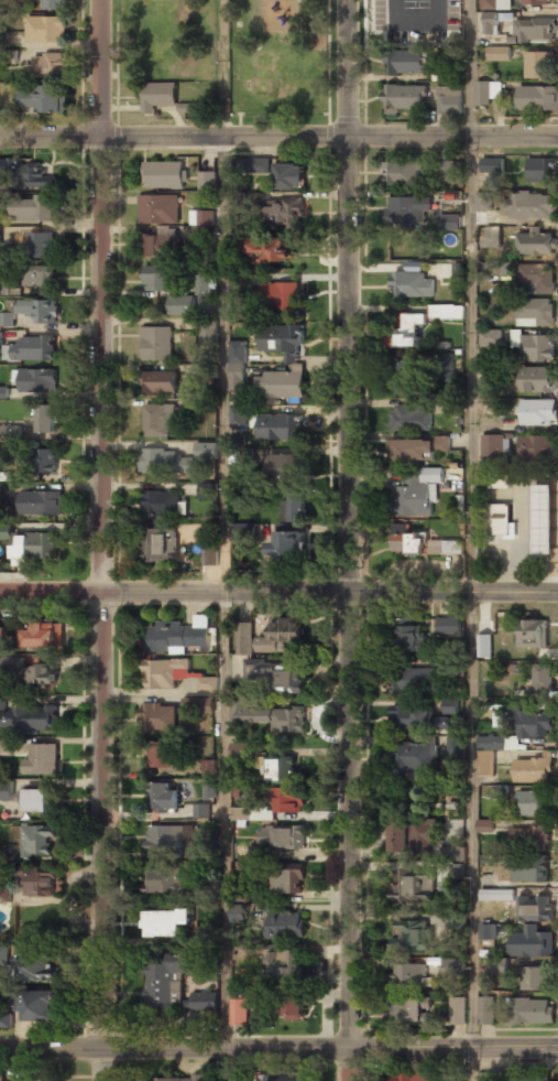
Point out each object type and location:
building: (537, 2)
building: (54, 4)
building: (396, 4)
building: (495, 4)
building: (495, 20)
building: (398, 26)
building: (45, 29)
building: (535, 30)
building: (1, 39)
park: (278, 54)
building: (493, 54)
building: (8, 56)
building: (405, 64)
building: (536, 66)
building: (47, 67)
building: (485, 94)
building: (157, 96)
building: (403, 98)
building: (537, 98)
building: (43, 100)
building: (448, 102)
road: (278, 141)
building: (492, 164)
building: (252, 165)
building: (541, 170)
building: (447, 171)
building: (28, 173)
building: (402, 174)
building: (165, 175)
building: (289, 176)
building: (207, 181)
building: (484, 201)
building: (530, 205)
building: (158, 208)
building: (33, 209)
building: (405, 210)
building: (284, 212)
building: (203, 217)
building: (484, 217)
building: (450, 221)
building: (201, 234)
building: (0, 235)
building: (493, 236)
building: (160, 244)
building: (534, 244)
building: (36, 246)
building: (273, 246)
building: (37, 277)
building: (156, 278)
building: (536, 278)
building: (201, 284)
building: (412, 285)
building: (4, 287)
building: (280, 295)
road: (468, 296)
building: (180, 306)
building: (35, 310)
building: (447, 312)
building: (535, 313)
building: (7, 318)
building: (411, 331)
building: (208, 332)
building: (491, 338)
building: (0, 339)
building: (282, 342)
building: (155, 345)
building: (32, 347)
building: (536, 347)
building: (237, 365)
building: (423, 371)
building: (37, 380)
building: (538, 380)
building: (160, 383)
building: (281, 385)
building: (449, 406)
building: (538, 413)
building: (238, 417)
building: (414, 418)
building: (47, 420)
building: (157, 421)
building: (281, 428)
building: (10, 431)
building: (493, 445)
building: (537, 448)
building: (419, 450)
building: (206, 451)
building: (44, 461)
building: (164, 463)
building: (284, 467)
building: (501, 480)
building: (207, 490)
building: (0, 496)
building: (412, 498)
building: (40, 504)
building: (162, 504)
building: (292, 508)
building: (543, 508)
building: (499, 520)
building: (6, 531)
building: (247, 531)
road: (103, 540)
road: (225, 540)
road: (347, 540)
building: (407, 541)
building: (162, 545)
building: (287, 545)
building: (34, 548)
building: (210, 555)
road: (278, 591)
building: (448, 626)
building: (532, 634)
building: (43, 636)
building: (411, 636)
building: (281, 637)
building: (177, 638)
building: (3, 639)
building: (483, 647)
building: (163, 673)
building: (42, 675)
building: (284, 678)
building: (414, 679)
building: (541, 681)
building: (206, 683)
building: (2, 702)
building: (198, 703)
building: (450, 705)
building: (499, 715)
building: (416, 717)
building: (34, 718)
building: (157, 718)
building: (278, 720)
building: (535, 724)
building: (491, 742)
building: (6, 746)
building: (455, 748)
building: (162, 756)
building: (415, 757)
building: (41, 760)
building: (485, 763)
building: (208, 768)
building: (278, 769)
building: (532, 771)
building: (209, 789)
building: (6, 790)
building: (164, 798)
building: (288, 799)
building: (36, 801)
building: (532, 804)
building: (201, 811)
building: (252, 813)
building: (485, 825)
building: (282, 836)
road: (470, 836)
building: (413, 837)
building: (164, 839)
building: (529, 841)
building: (37, 842)
building: (254, 853)
building: (3, 854)
building: (455, 857)
building: (530, 872)
building: (289, 879)
building: (36, 880)
building: (163, 880)
building: (417, 884)
building: (204, 893)
building: (4, 895)
building: (497, 895)
building: (239, 912)
building: (165, 922)
building: (284, 927)
building: (533, 928)
building: (488, 932)
building: (412, 937)
building: (3, 954)
building: (285, 965)
building: (39, 966)
building: (452, 966)
building: (495, 968)
building: (408, 976)
building: (533, 980)
building: (164, 981)
building: (205, 1001)
building: (39, 1004)
building: (293, 1005)
building: (408, 1009)
building: (239, 1010)
building: (485, 1010)
building: (457, 1012)
building: (532, 1012)
building: (6, 1019)
road: (278, 1048)
building: (496, 1074)
building: (240, 1077)
building: (1, 1078)
building: (284, 1078)
building: (411, 1078)
building: (30, 1079)
building: (173, 1079)
building: (532, 1080)

